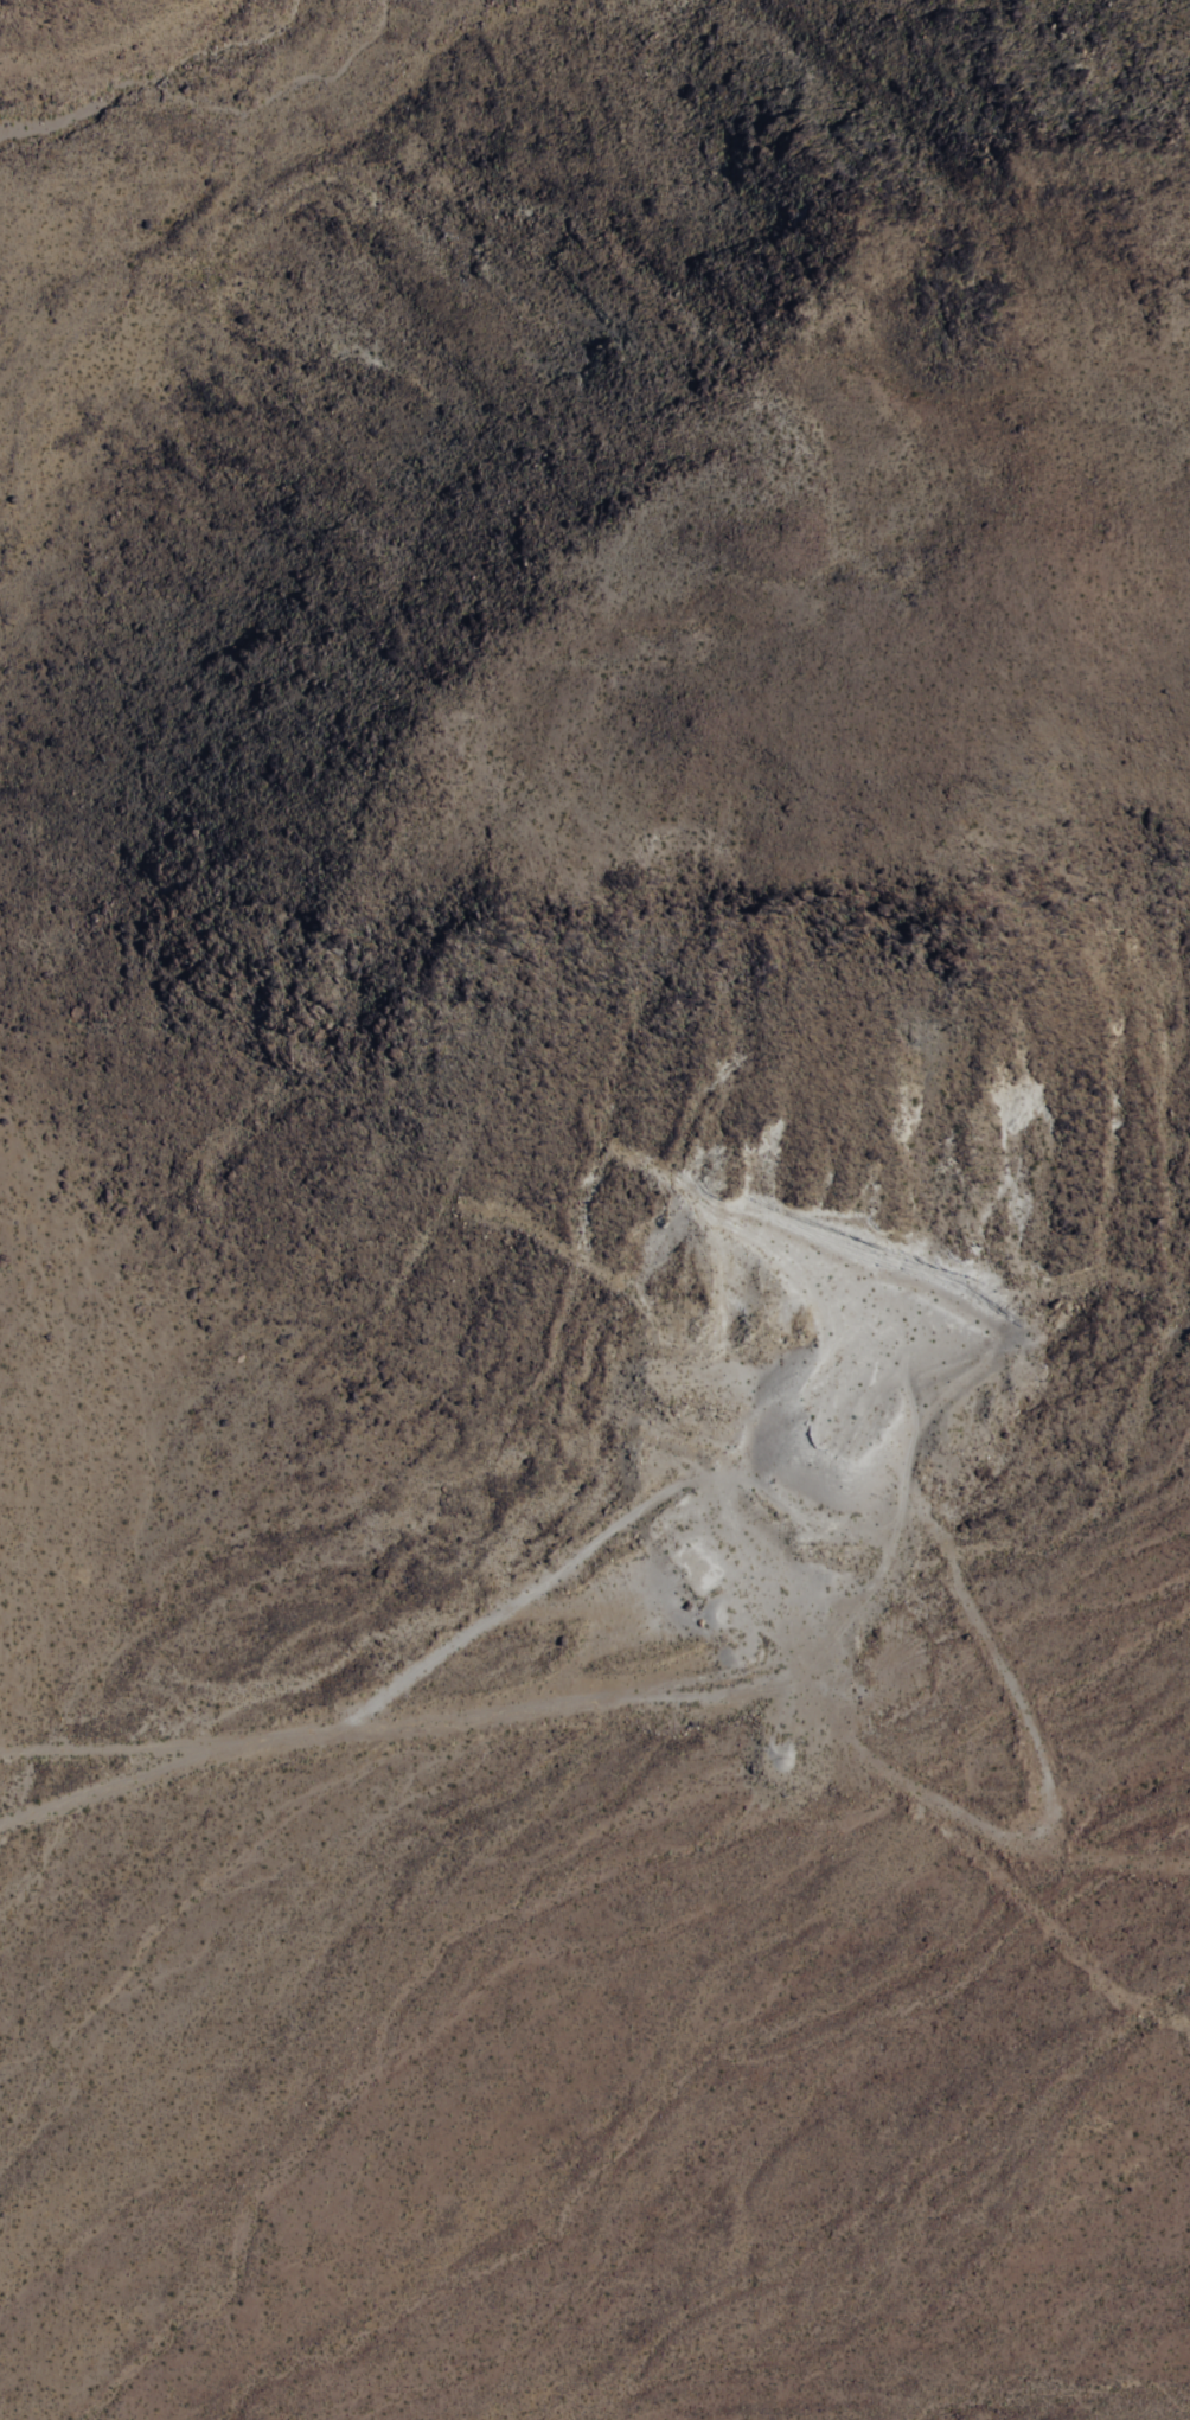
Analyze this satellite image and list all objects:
road: (596, 1702)
road: (141, 1746)
road: (975, 1825)
road: (1073, 1940)

